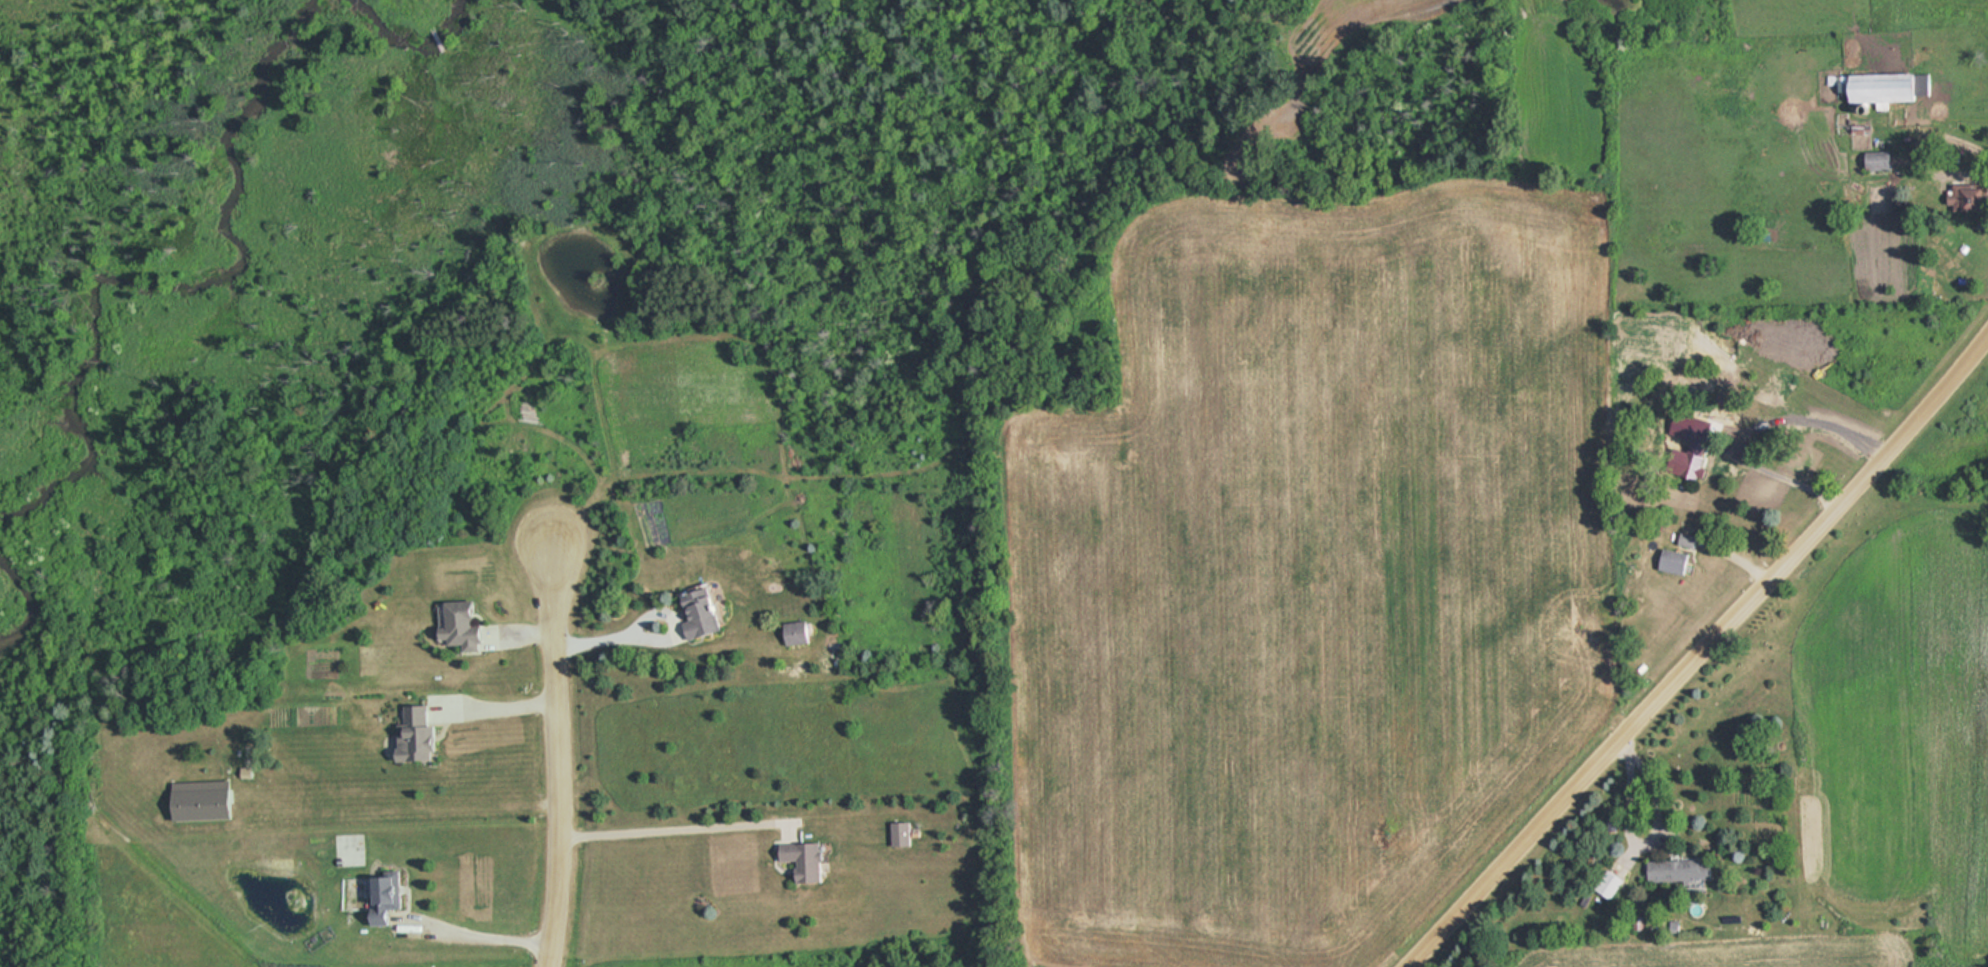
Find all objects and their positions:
building: (1875, 89)
building: (1865, 162)
building: (1962, 197)
building: (1684, 465)
building: (1684, 541)
building: (1668, 562)
building: (707, 616)
building: (464, 627)
building: (791, 634)
road: (1696, 649)
building: (420, 735)
road: (559, 757)
building: (895, 834)
building: (795, 858)
building: (1674, 869)
building: (1604, 883)
building: (375, 900)

